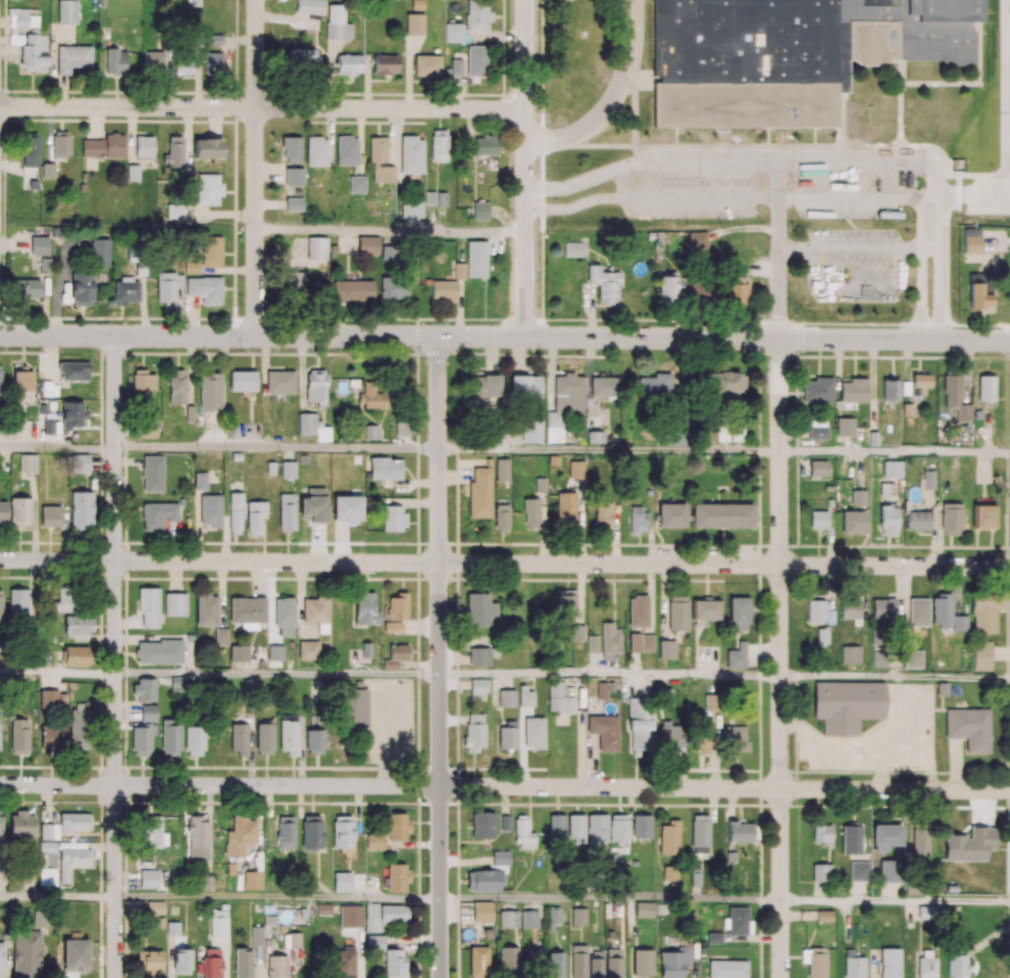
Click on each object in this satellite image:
building: (309, 6)
building: (414, 23)
building: (452, 32)
building: (427, 64)
road: (609, 96)
road: (262, 108)
road: (94, 122)
road: (213, 122)
road: (48, 134)
road: (130, 135)
building: (143, 146)
building: (316, 150)
building: (346, 150)
building: (410, 154)
road: (635, 163)
road: (256, 167)
road: (526, 168)
building: (48, 169)
building: (132, 172)
road: (269, 172)
building: (293, 176)
road: (576, 183)
building: (356, 184)
building: (82, 186)
road: (988, 194)
road: (270, 203)
building: (293, 203)
road: (578, 206)
road: (220, 212)
road: (391, 229)
road: (14, 243)
building: (38, 245)
road: (931, 246)
road: (855, 247)
road: (227, 268)
road: (43, 305)
road: (177, 312)
road: (191, 316)
road: (505, 337)
road: (277, 448)
road: (57, 450)
road: (609, 450)
road: (895, 452)
building: (26, 463)
road: (504, 563)
road: (780, 587)
road: (114, 656)
road: (439, 657)
road: (57, 673)
road: (277, 673)
road: (610, 675)
road: (895, 676)
road: (505, 786)
road: (58, 896)
road: (611, 896)
road: (278, 898)
road: (895, 903)

